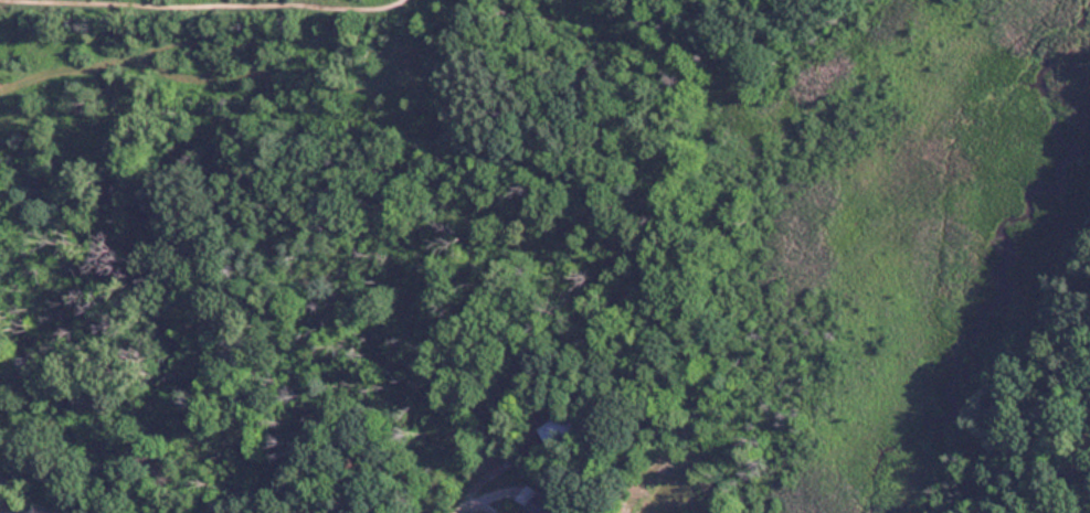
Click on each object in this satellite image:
building: (539, 504)
road: (60, 507)

